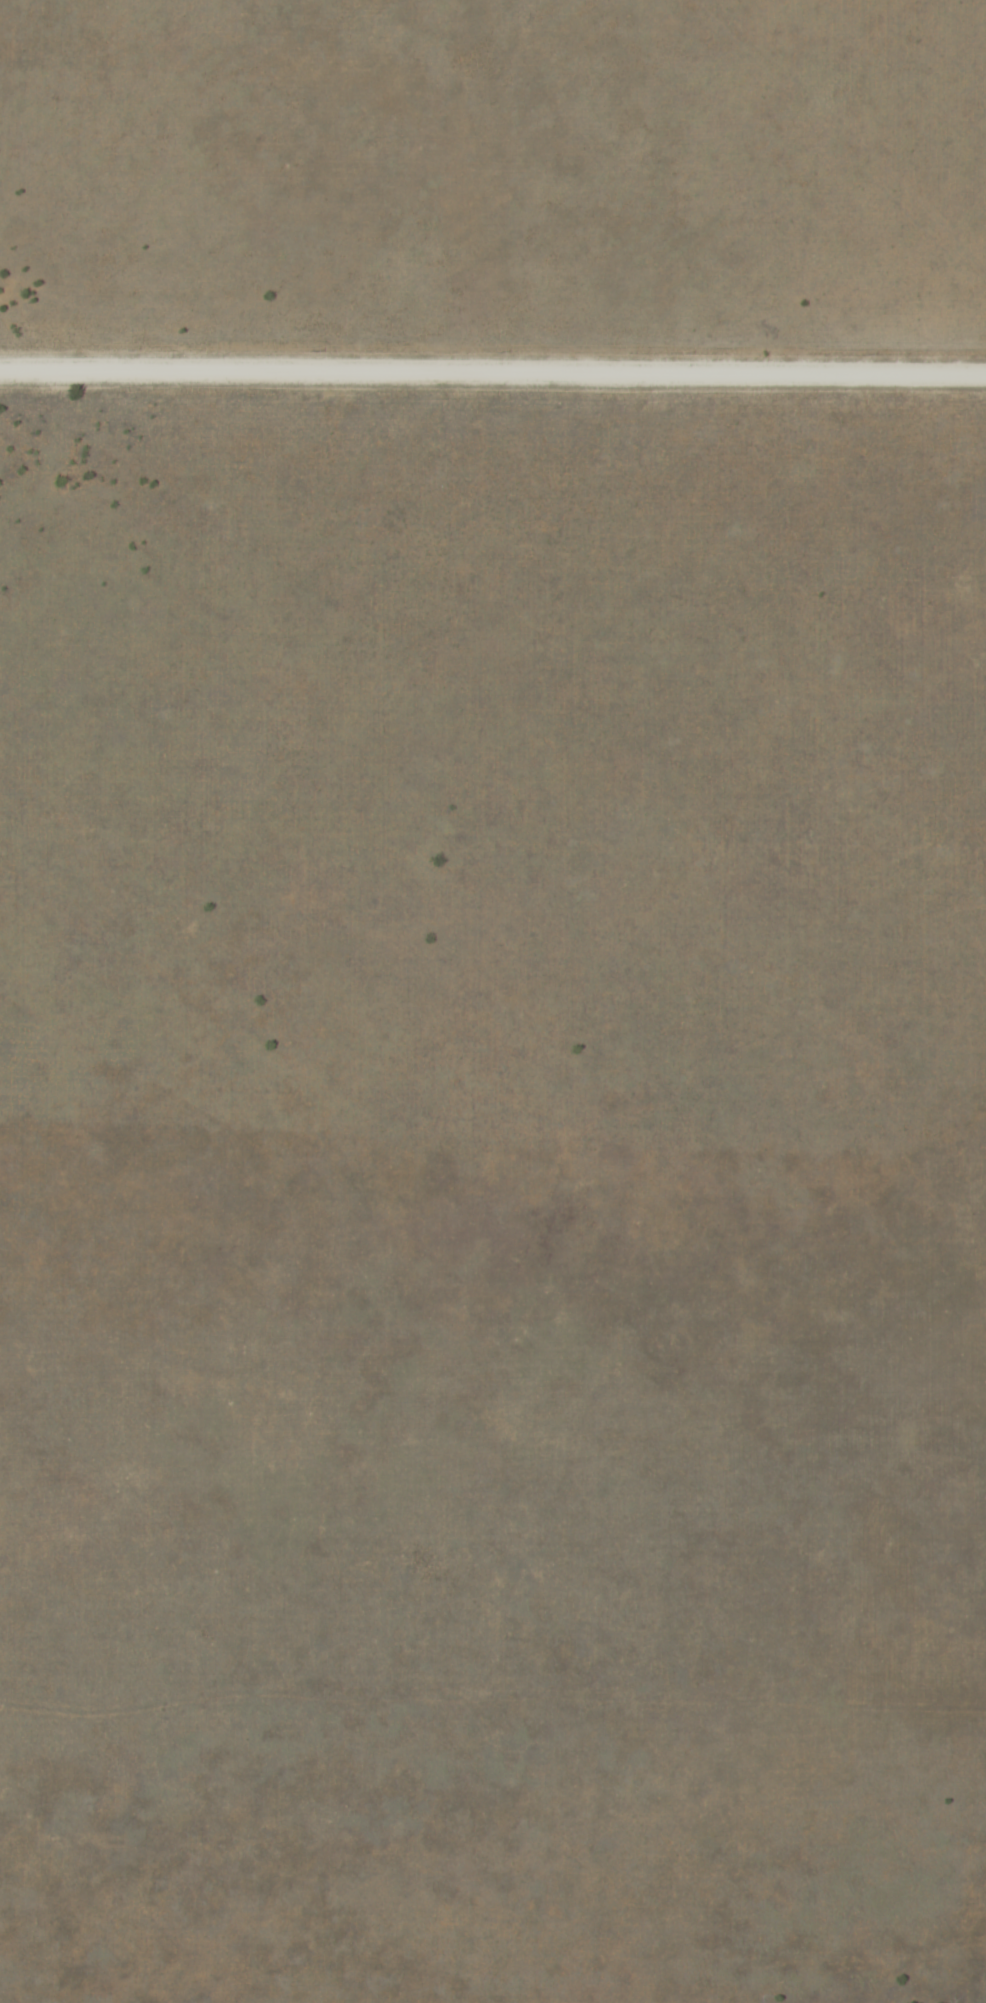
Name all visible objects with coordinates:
road: (493, 378)

